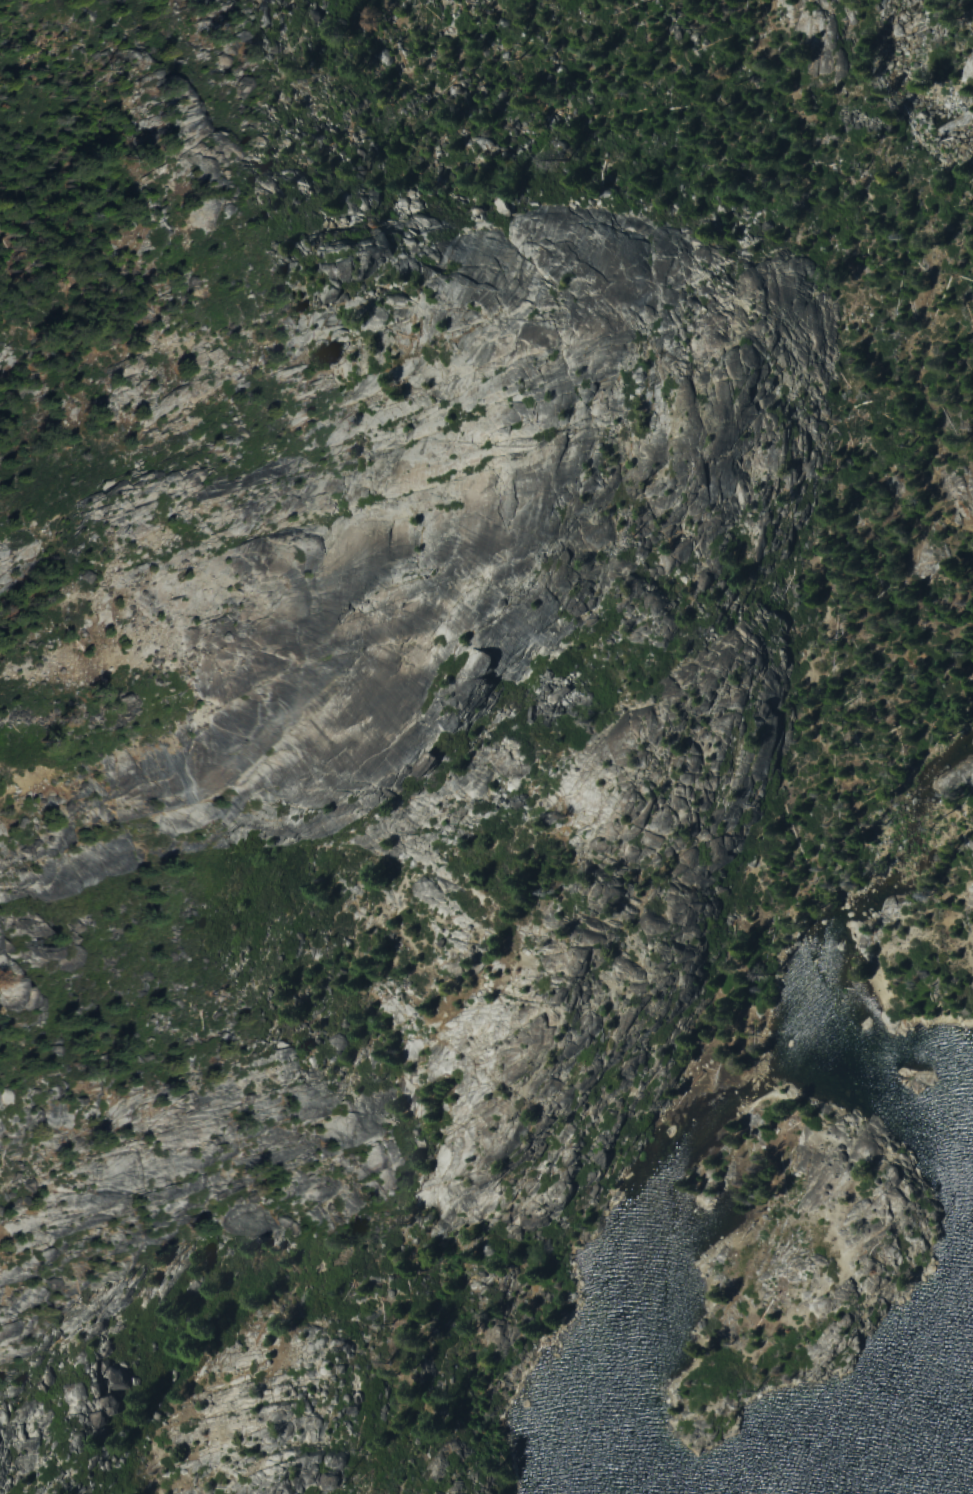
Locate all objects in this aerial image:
river: (942, 55)
river: (927, 789)

